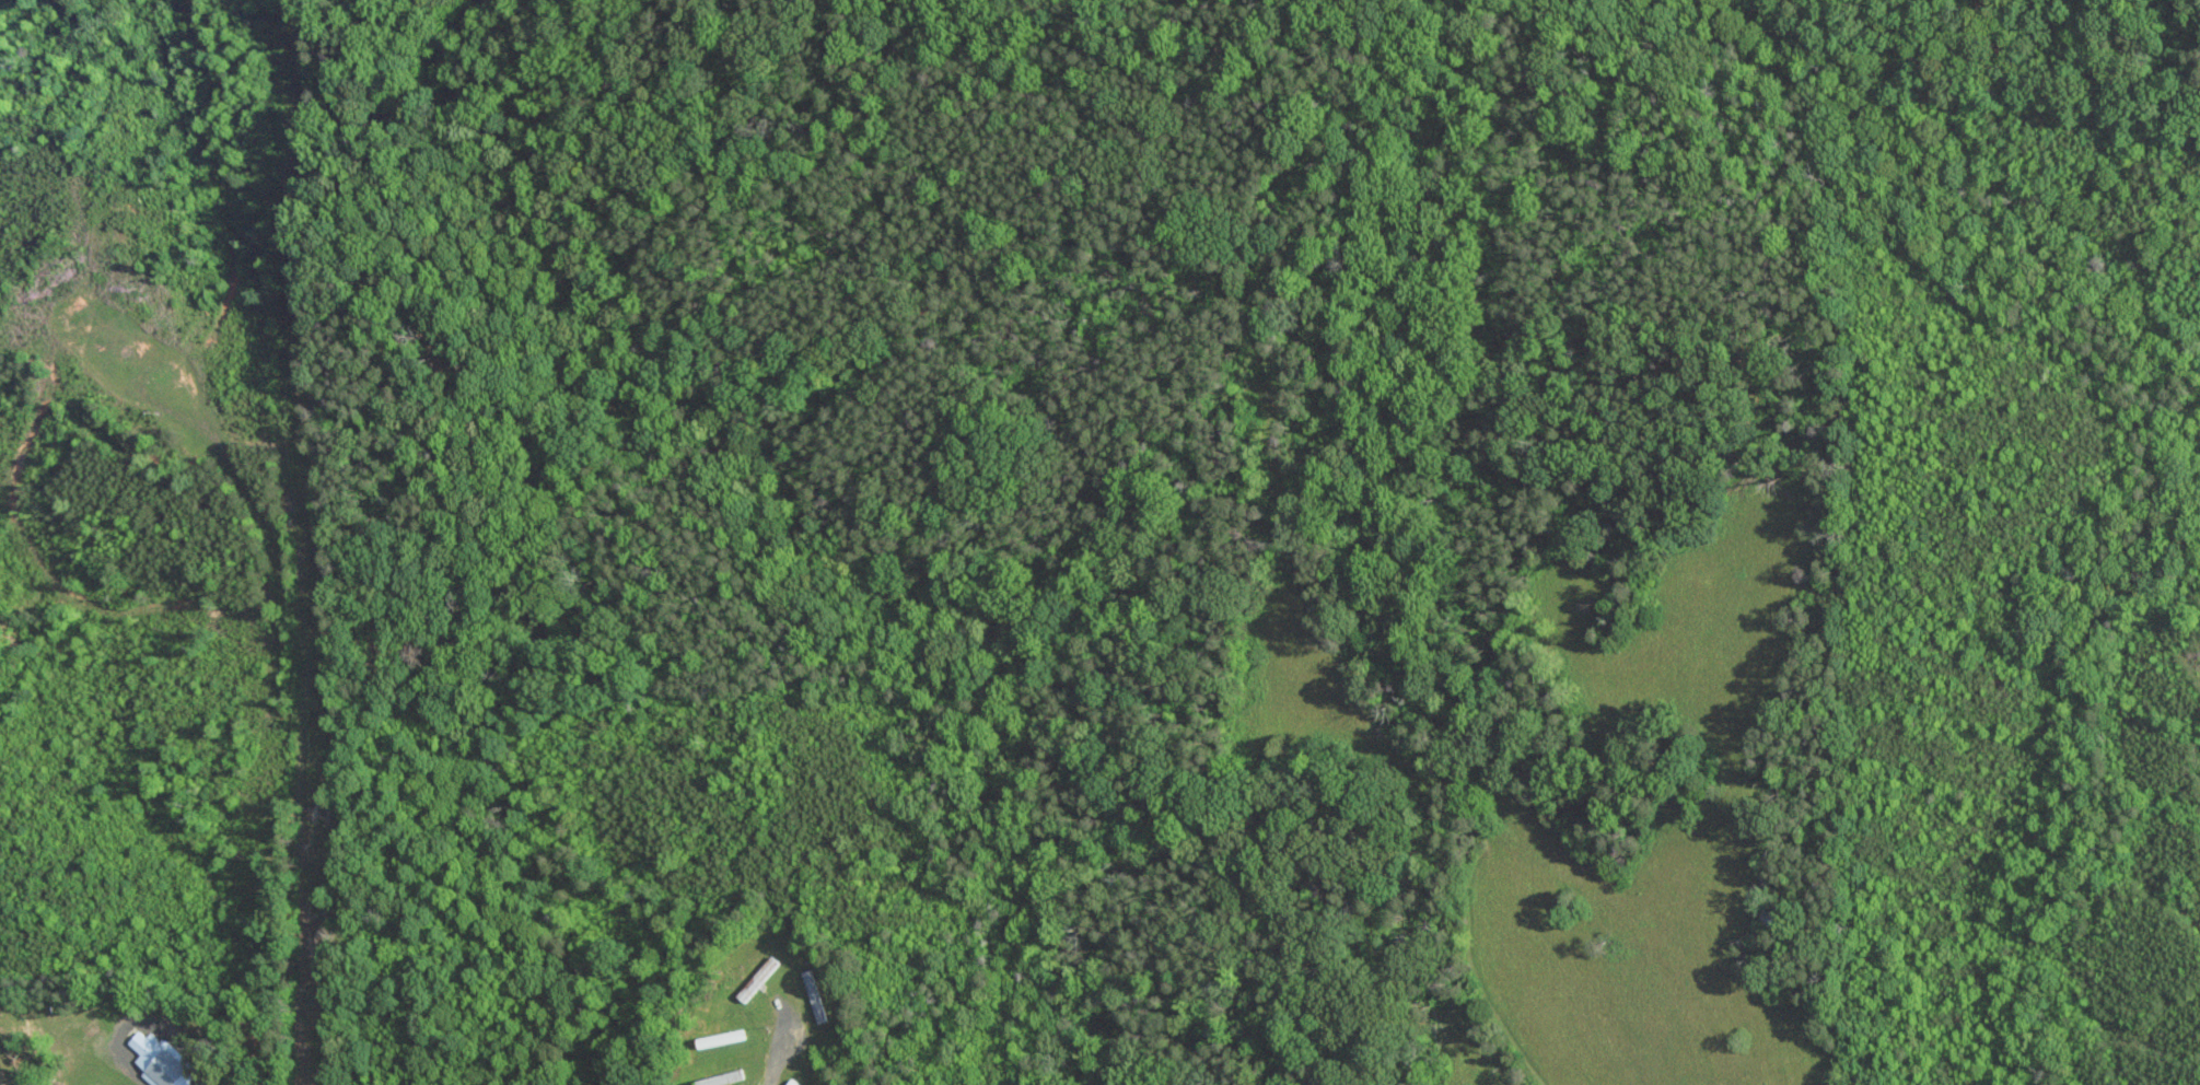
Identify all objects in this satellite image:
road: (304, 711)
road: (779, 1061)

